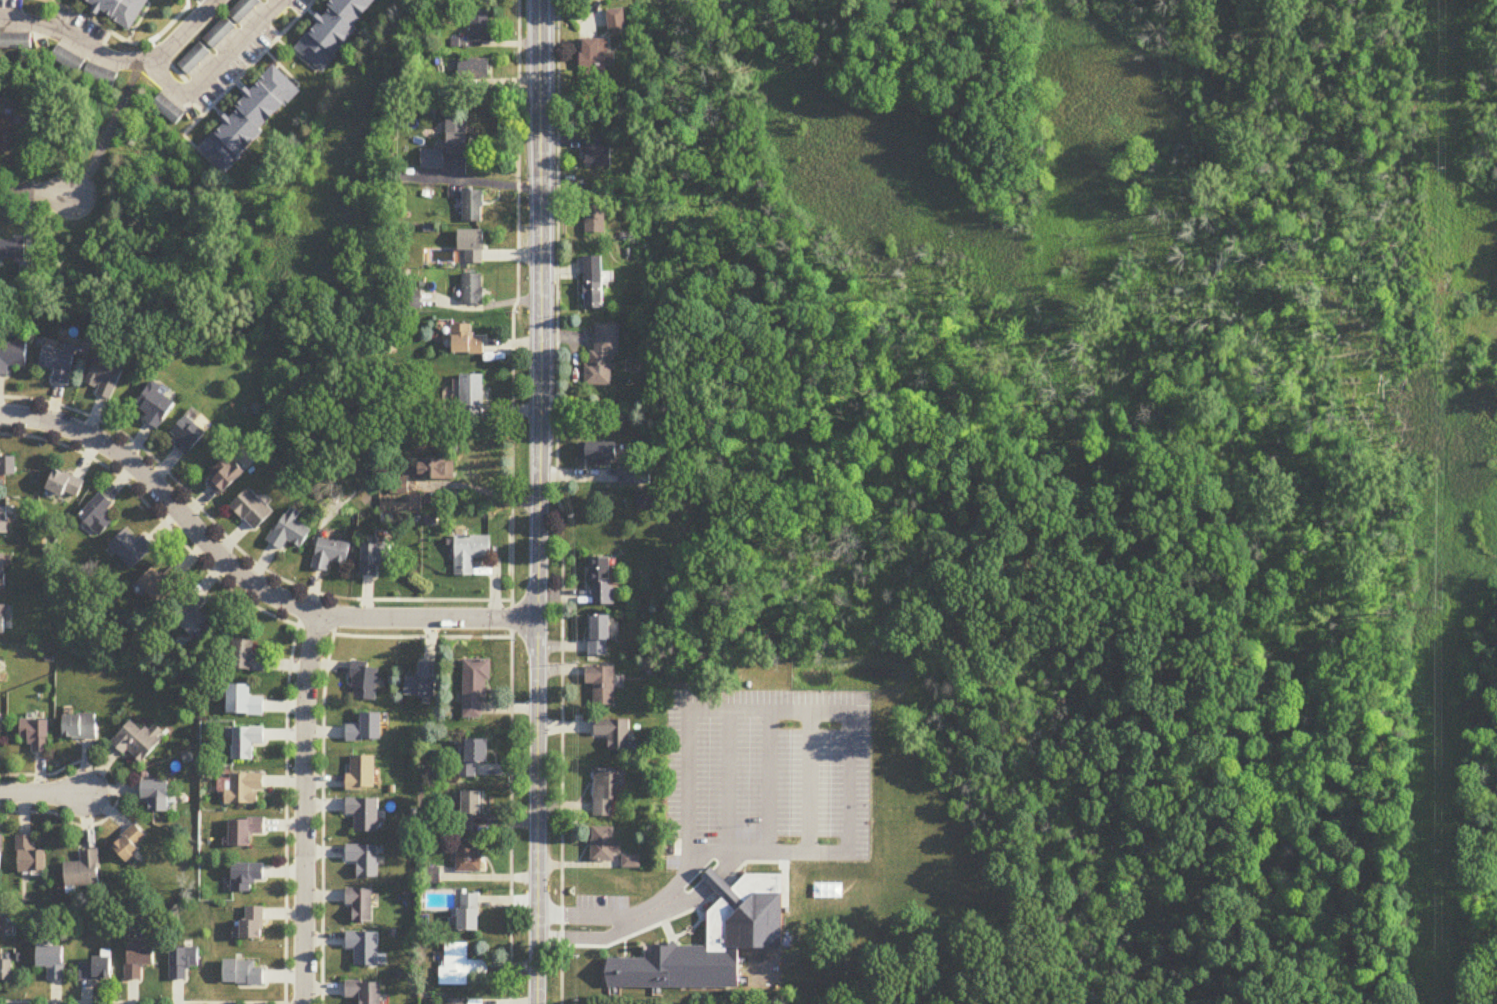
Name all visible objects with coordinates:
building: (119, 10)
building: (243, 10)
building: (479, 26)
building: (332, 30)
building: (218, 33)
building: (14, 42)
building: (595, 58)
building: (192, 59)
road: (118, 60)
building: (67, 61)
building: (473, 69)
road: (213, 72)
building: (99, 76)
building: (166, 110)
building: (249, 119)
building: (7, 135)
building: (458, 136)
building: (598, 153)
building: (431, 160)
road: (26, 193)
road: (45, 195)
building: (472, 207)
building: (596, 217)
building: (472, 247)
building: (12, 251)
building: (594, 284)
building: (472, 290)
building: (412, 300)
building: (466, 341)
building: (604, 356)
building: (12, 358)
building: (58, 364)
building: (105, 379)
building: (471, 397)
building: (156, 406)
building: (188, 435)
building: (603, 452)
building: (7, 466)
building: (436, 470)
building: (225, 477)
building: (635, 477)
building: (65, 485)
road: (511, 501)
road: (537, 502)
road: (557, 502)
building: (253, 510)
building: (97, 515)
building: (5, 523)
building: (289, 535)
road: (235, 546)
building: (131, 549)
building: (470, 553)
building: (330, 555)
building: (374, 560)
building: (2, 572)
road: (242, 577)
building: (602, 583)
building: (159, 584)
building: (189, 614)
building: (2, 621)
building: (601, 637)
building: (247, 658)
building: (365, 683)
building: (422, 684)
building: (602, 686)
building: (475, 690)
building: (243, 703)
road: (783, 708)
building: (80, 728)
road: (322, 728)
building: (367, 730)
building: (615, 734)
building: (36, 736)
park: (1459, 739)
building: (139, 743)
building: (246, 743)
building: (473, 757)
road: (285, 774)
building: (362, 775)
road: (728, 779)
road: (768, 779)
road: (850, 781)
building: (243, 789)
road: (117, 790)
road: (41, 793)
building: (605, 794)
building: (157, 797)
road: (303, 808)
building: (469, 811)
building: (365, 815)
building: (244, 832)
building: (131, 845)
building: (604, 846)
building: (1, 854)
building: (29, 857)
building: (468, 858)
building: (365, 861)
road: (729, 863)
building: (84, 871)
building: (245, 877)
road: (712, 879)
building: (713, 880)
road: (680, 904)
building: (361, 906)
building: (468, 914)
road: (593, 916)
building: (3, 924)
building: (251, 926)
road: (595, 937)
building: (710, 939)
building: (364, 950)
building: (138, 961)
building: (51, 962)
building: (182, 963)
building: (454, 967)
building: (96, 971)
building: (6, 973)
building: (242, 974)
building: (365, 993)
building: (457, 1002)
road: (284, 1003)

